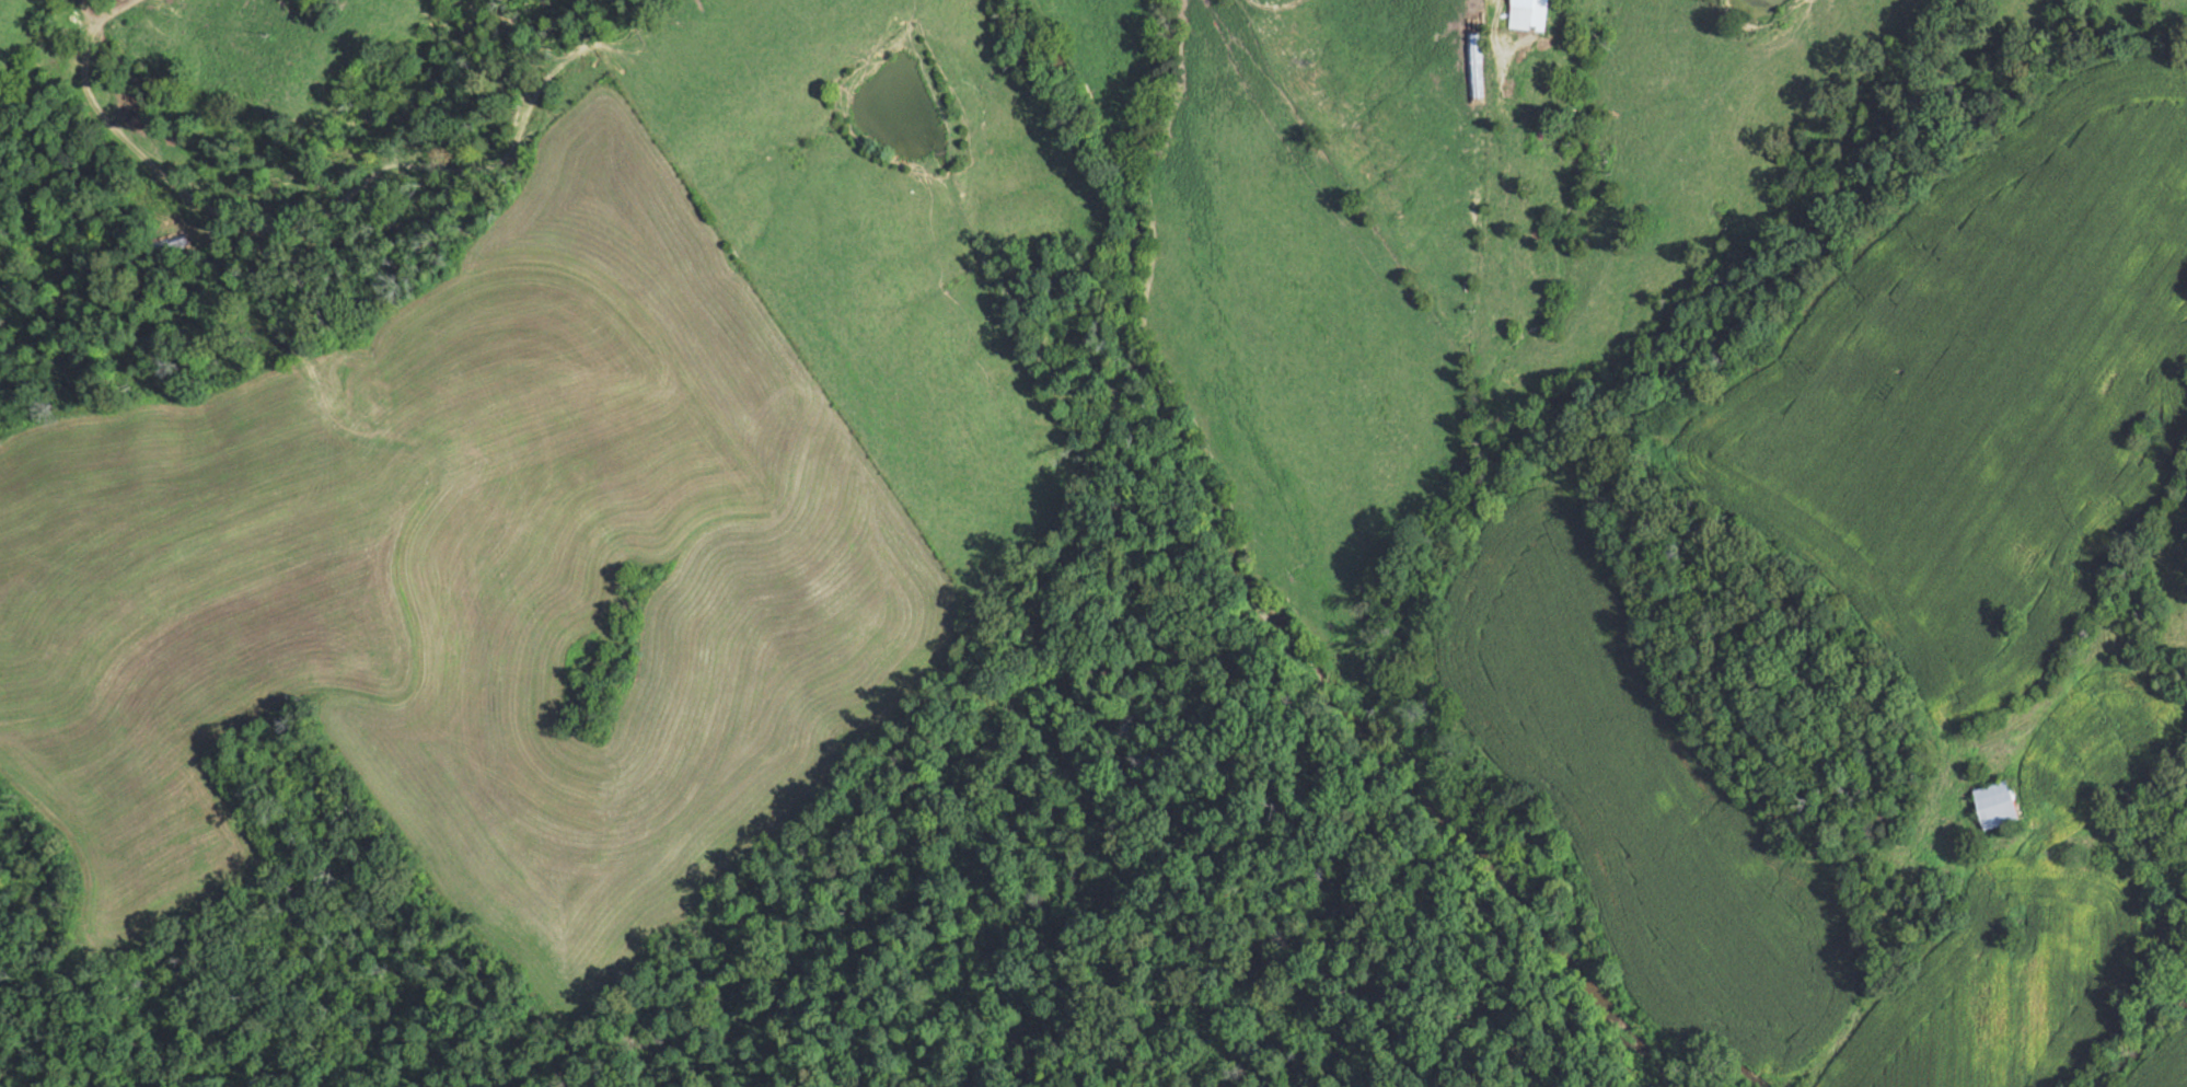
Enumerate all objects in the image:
building: (1524, 3)
building: (1997, 805)

